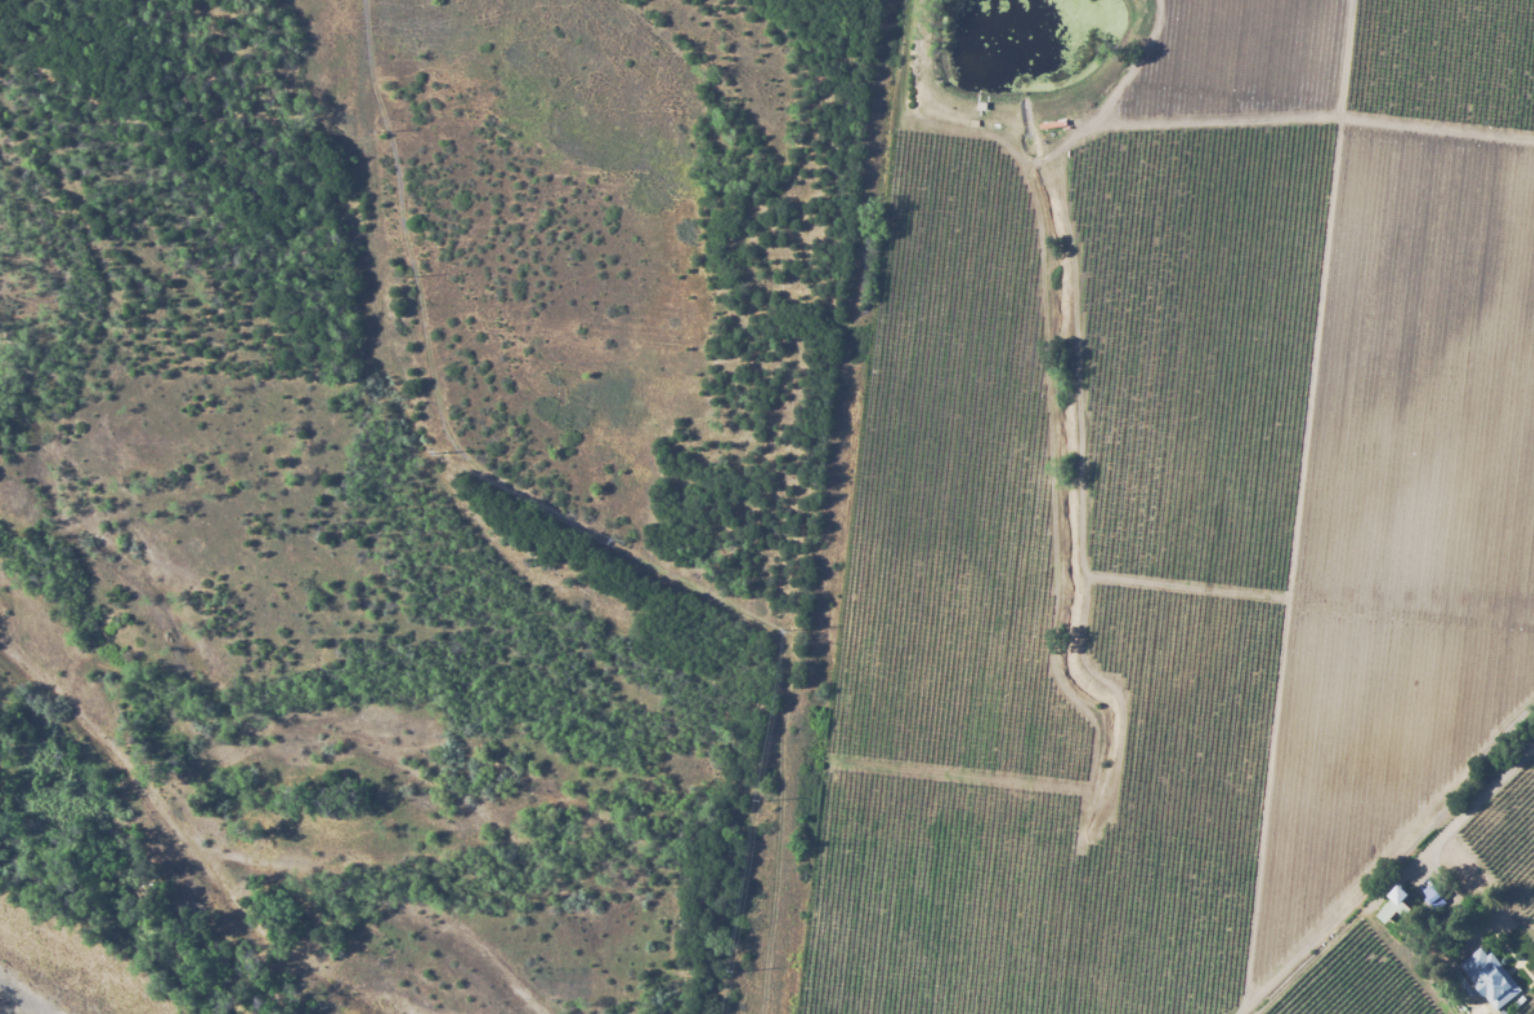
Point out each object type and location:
road: (1303, 115)
road: (1295, 504)
road: (585, 525)
building: (1433, 895)
building: (1397, 904)
building: (1490, 977)

